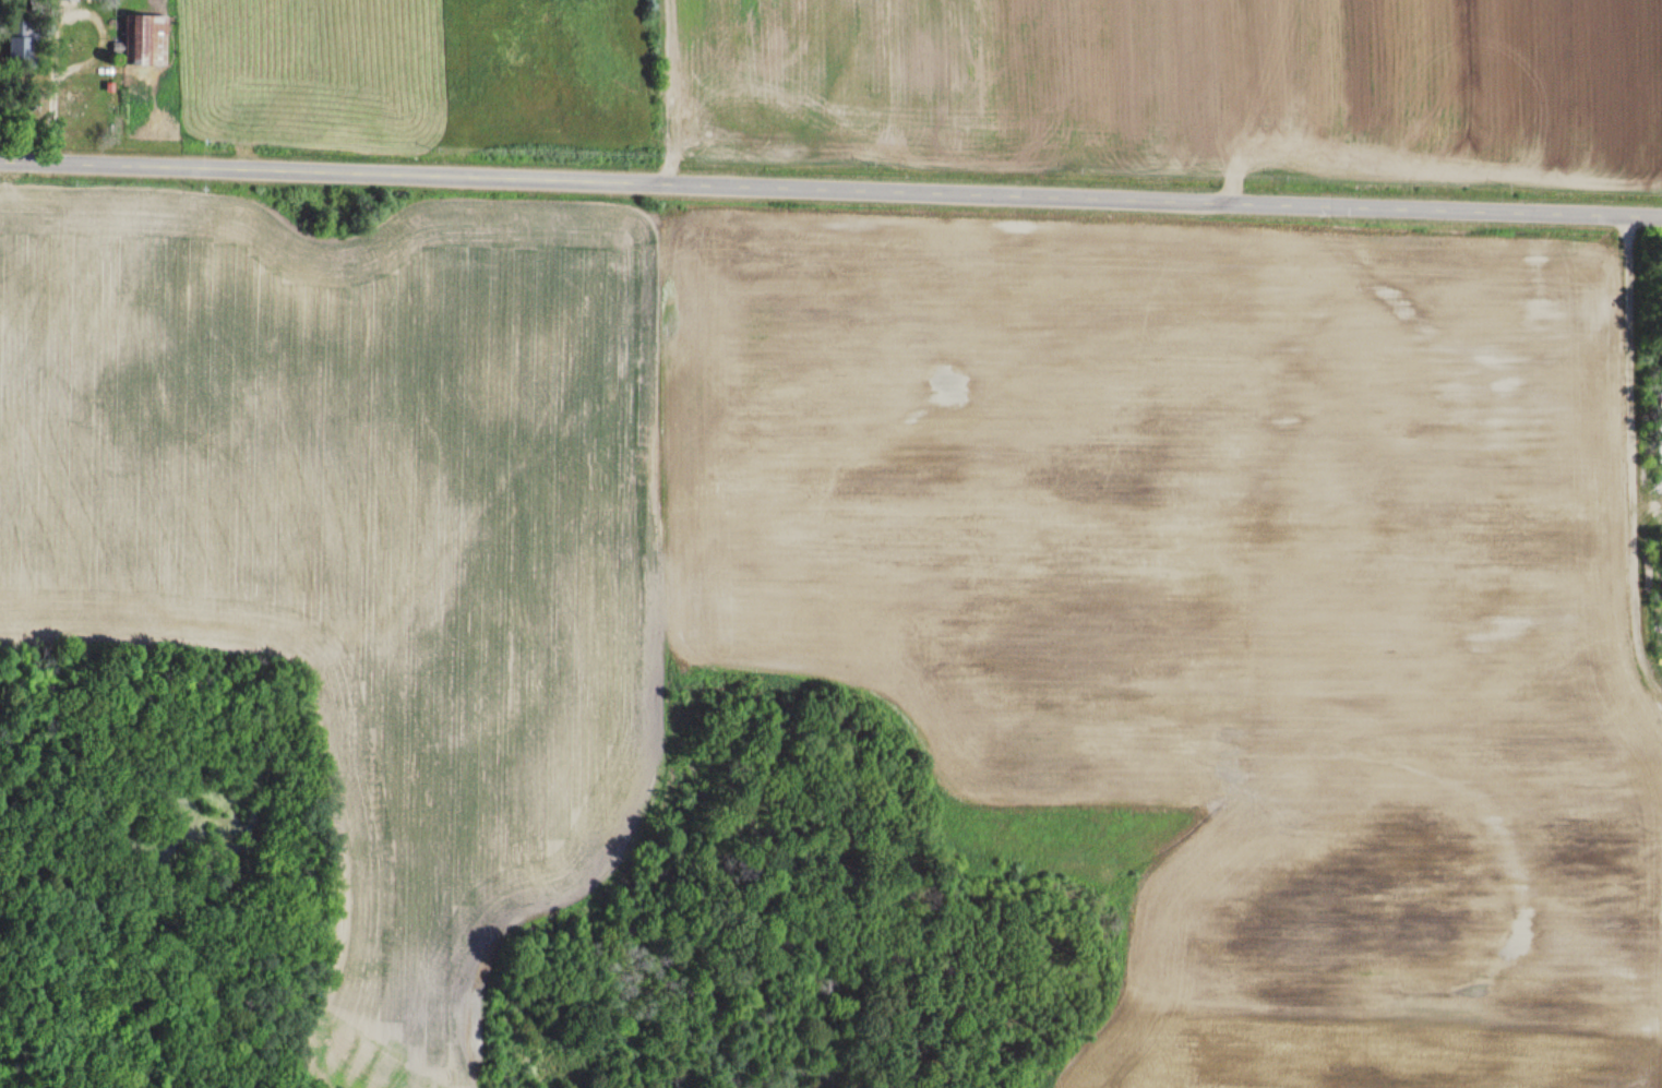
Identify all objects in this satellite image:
building: (151, 39)
building: (32, 40)
road: (830, 188)

